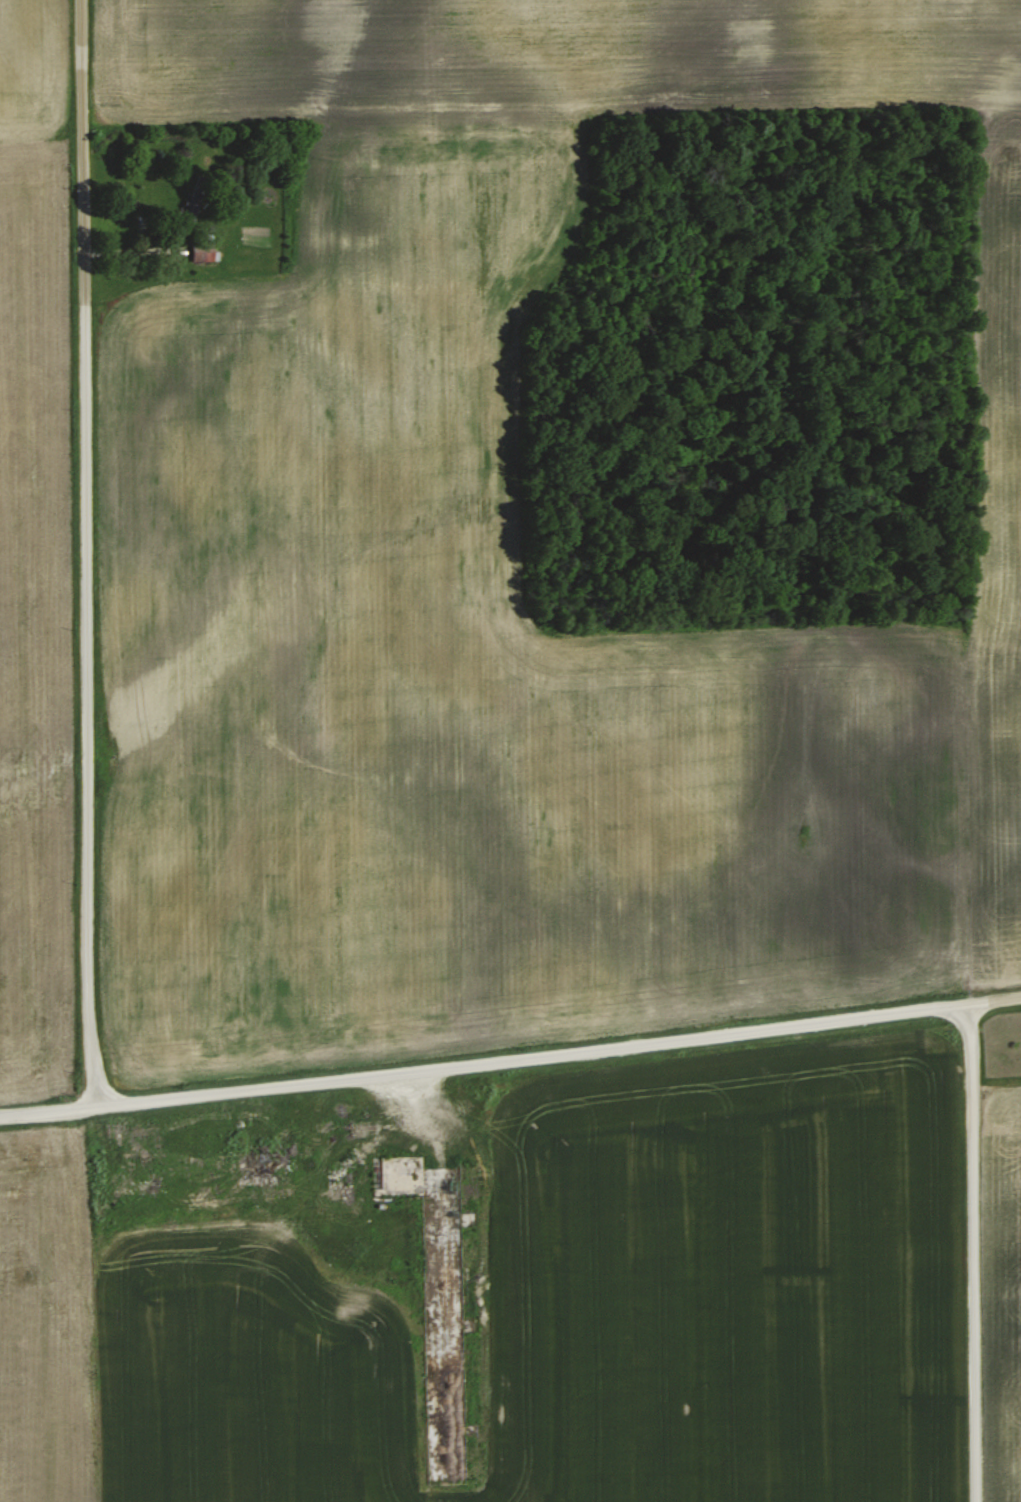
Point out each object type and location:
building: (205, 250)
road: (82, 550)
road: (510, 1059)
building: (264, 1167)
building: (141, 1185)
road: (967, 1259)
building: (441, 1304)

